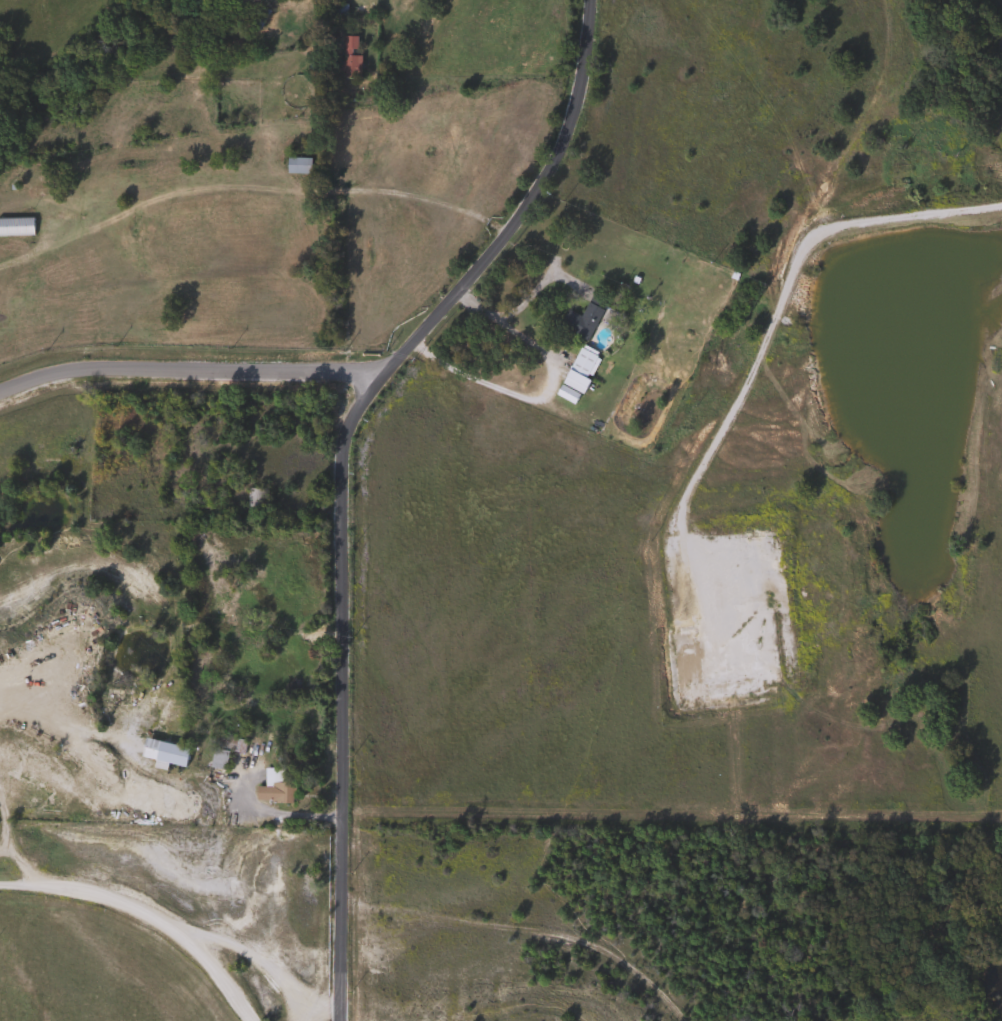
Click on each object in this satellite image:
building: (336, 13)
building: (253, 17)
building: (346, 67)
building: (295, 166)
building: (14, 227)
building: (580, 317)
building: (581, 361)
road: (196, 362)
road: (536, 391)
road: (338, 469)
building: (252, 499)
building: (221, 597)
building: (222, 749)
building: (161, 752)
building: (268, 785)
road: (144, 916)

